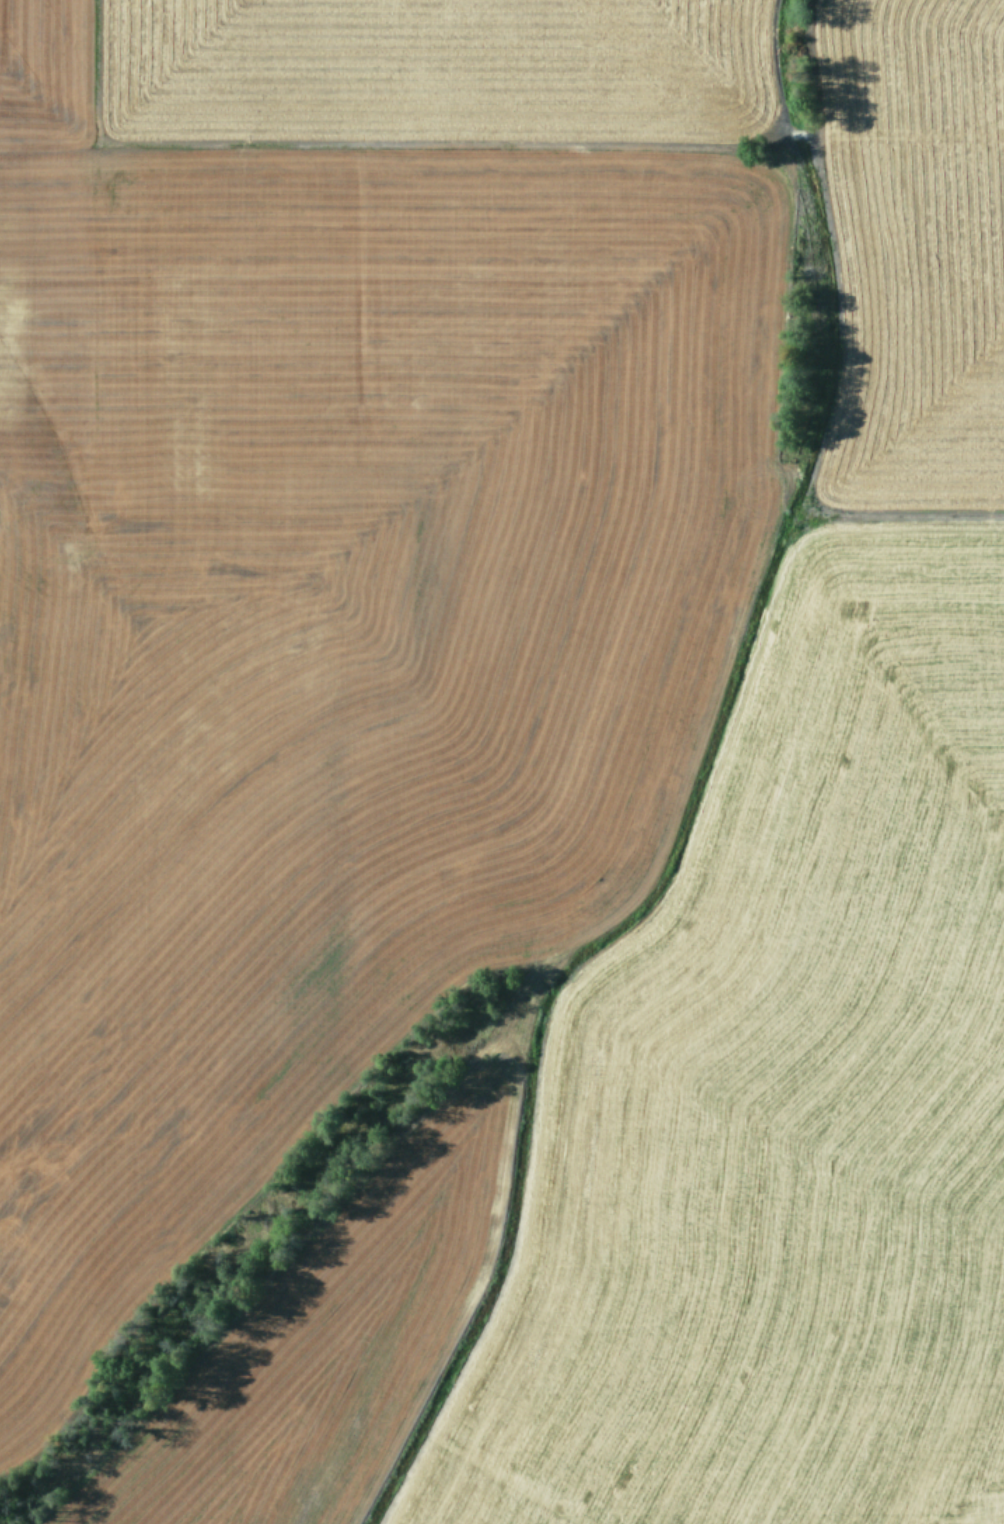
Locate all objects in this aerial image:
crop: (502, 762)

